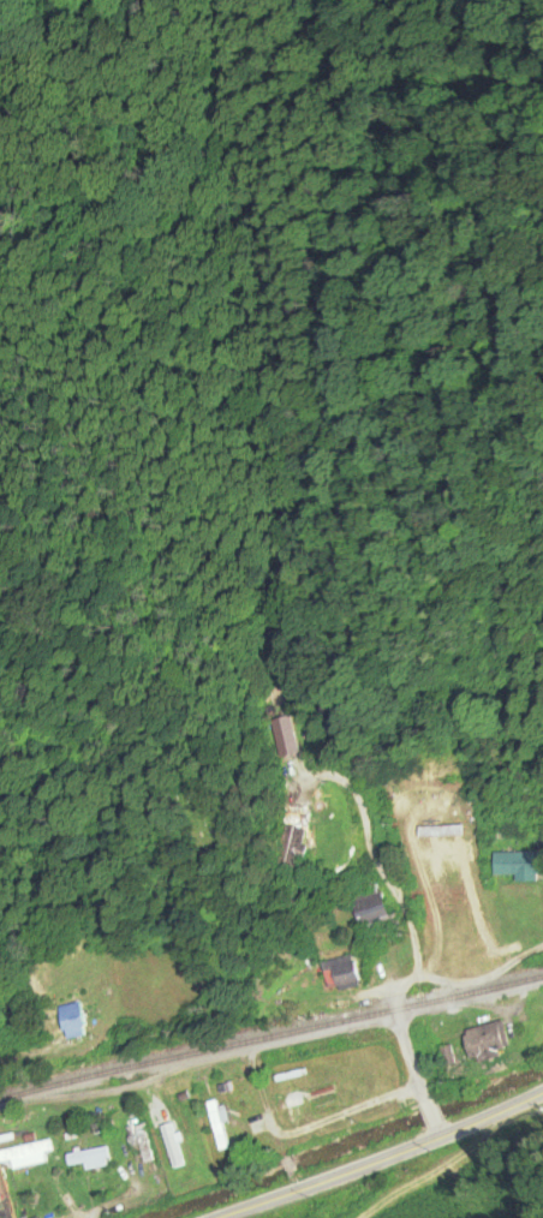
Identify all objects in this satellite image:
building: (284, 736)
building: (469, 835)
building: (292, 837)
road: (393, 852)
building: (423, 854)
building: (518, 865)
building: (438, 898)
building: (371, 910)
building: (447, 918)
building: (342, 973)
road: (414, 980)
building: (71, 1020)
railway: (270, 1035)
building: (484, 1040)
building: (444, 1056)
building: (381, 1065)
building: (357, 1075)
building: (332, 1080)
building: (311, 1088)
building: (286, 1094)
road: (334, 1117)
road: (428, 1117)
building: (216, 1124)
road: (435, 1134)
building: (138, 1145)
building: (23, 1156)
building: (89, 1159)
road: (387, 1159)
road: (291, 1176)

